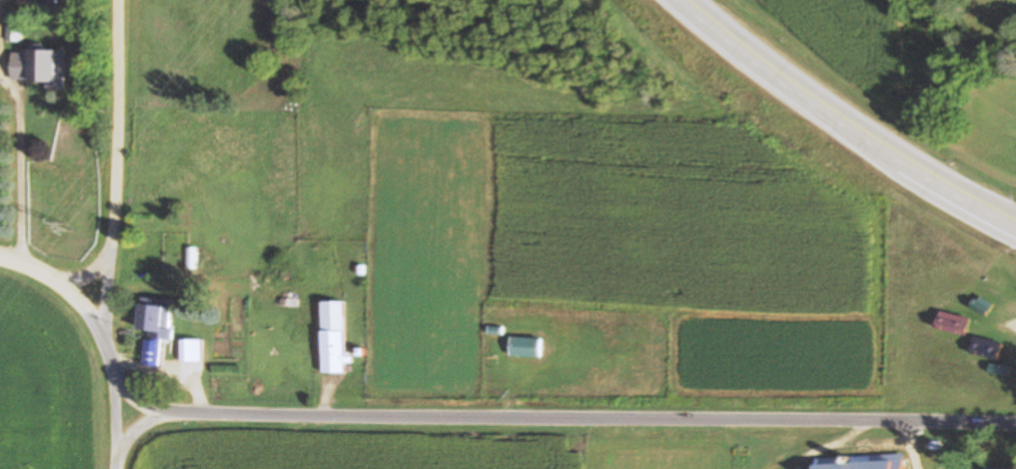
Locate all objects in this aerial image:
building: (15, 33)
building: (35, 68)
road: (845, 119)
power tower: (69, 227)
road: (114, 235)
building: (191, 258)
road: (88, 268)
road: (62, 275)
building: (983, 306)
building: (152, 324)
building: (947, 330)
building: (333, 338)
building: (525, 347)
building: (987, 348)
building: (181, 350)
road: (146, 396)
road: (598, 420)
road: (144, 421)
building: (871, 463)

